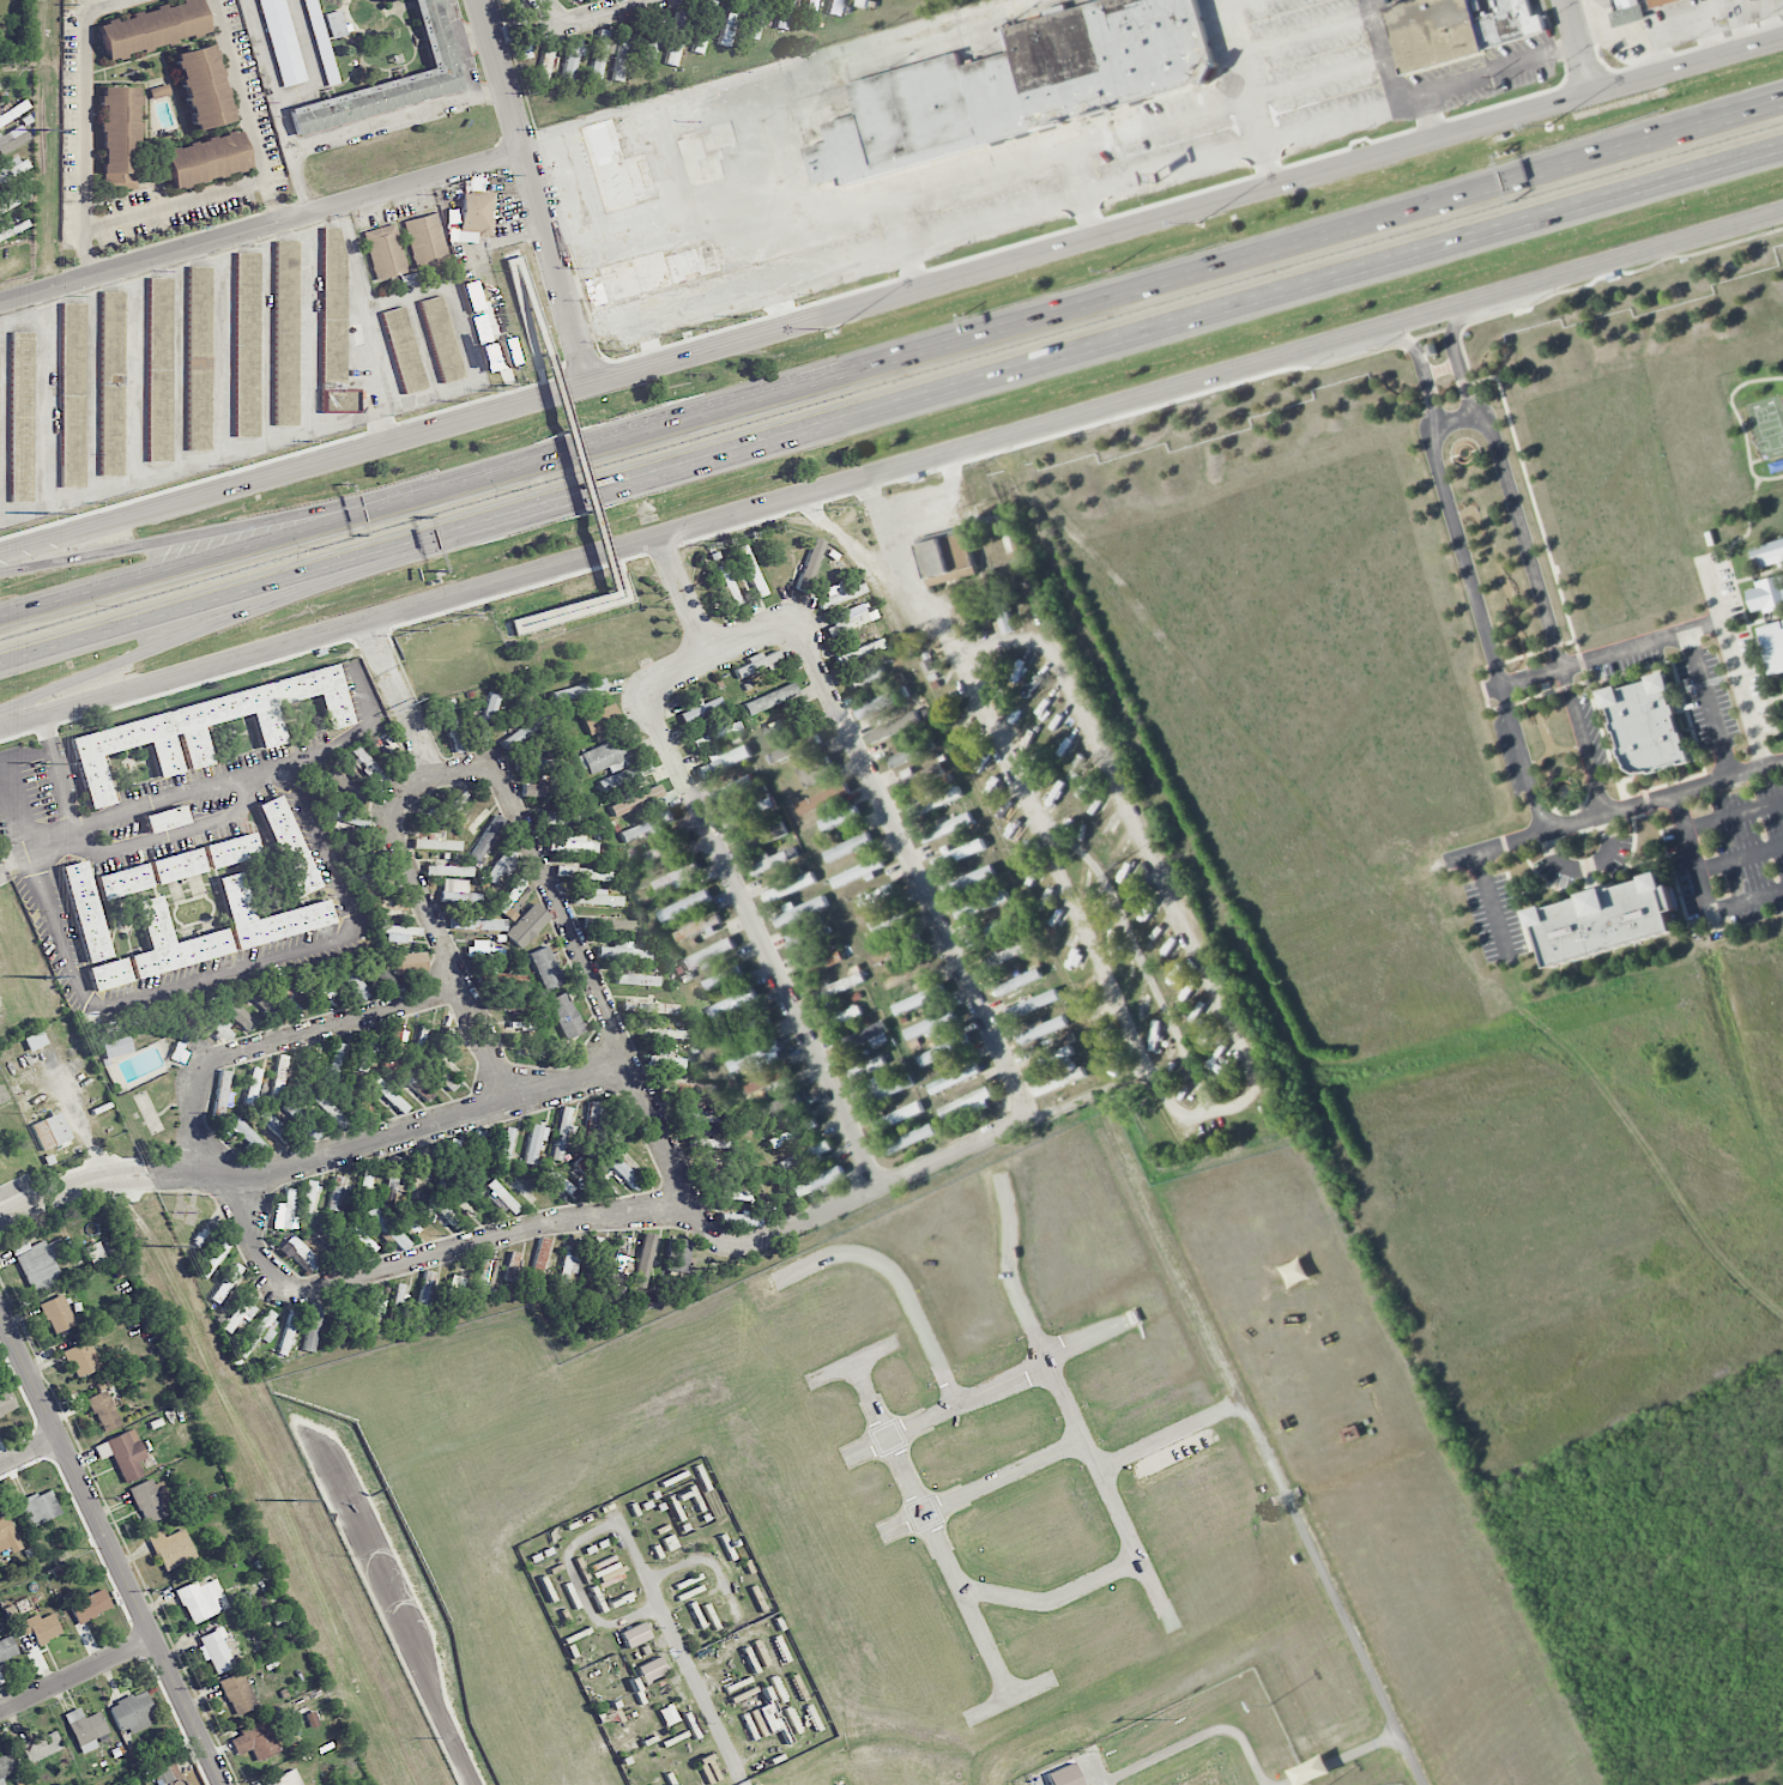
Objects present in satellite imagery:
building: (575, 0)
road: (1222, 2)
building: (1658, 2)
building: (834, 7)
building: (810, 11)
building: (782, 13)
building: (1627, 16)
road: (592, 17)
road: (449, 18)
building: (754, 18)
building: (730, 22)
building: (334, 23)
building: (152, 28)
building: (1456, 29)
road: (1298, 34)
building: (689, 40)
building: (282, 42)
building: (320, 42)
road: (1580, 46)
road: (459, 50)
building: (600, 54)
building: (622, 54)
building: (548, 56)
building: (572, 58)
road: (1240, 66)
road: (503, 74)
road: (270, 75)
building: (388, 81)
road: (1312, 83)
building: (1023, 85)
building: (200, 86)
road: (767, 92)
road: (243, 99)
road: (85, 111)
road: (1430, 115)
road: (1699, 117)
power tower: (50, 128)
road: (369, 128)
building: (120, 137)
building: (12, 140)
road: (1775, 147)
road: (1244, 149)
road: (1775, 149)
building: (203, 158)
road: (1267, 164)
building: (13, 168)
road: (1001, 169)
road: (669, 171)
road: (1076, 171)
building: (12, 196)
road: (176, 204)
road: (276, 211)
road: (1089, 214)
building: (476, 216)
road: (897, 220)
road: (262, 225)
building: (427, 241)
road: (265, 242)
road: (1063, 244)
building: (385, 250)
road: (599, 256)
road: (89, 265)
road: (912, 265)
road: (558, 266)
road: (780, 276)
road: (1165, 278)
road: (519, 280)
building: (472, 296)
road: (780, 301)
building: (334, 325)
road: (309, 329)
building: (286, 333)
road: (1142, 333)
road: (648, 335)
building: (441, 339)
road: (267, 341)
building: (247, 345)
building: (403, 350)
road: (224, 353)
building: (199, 357)
road: (181, 365)
building: (159, 368)
road: (138, 379)
building: (113, 385)
road: (92, 391)
building: (72, 394)
road: (47, 404)
building: (22, 415)
road: (2, 417)
road: (1455, 418)
road: (383, 424)
road: (191, 464)
road: (890, 465)
road: (587, 468)
road: (171, 502)
power tower: (48, 513)
road: (274, 518)
road: (274, 538)
road: (1525, 546)
building: (1767, 552)
building: (947, 558)
road: (899, 559)
road: (1463, 561)
building: (810, 564)
building: (751, 570)
building: (729, 583)
road: (258, 586)
road: (685, 593)
building: (840, 594)
building: (1766, 594)
road: (256, 607)
building: (1002, 613)
road: (551, 621)
building: (846, 624)
building: (1773, 646)
road: (721, 651)
building: (859, 652)
road: (1610, 654)
building: (757, 662)
road: (1733, 662)
building: (866, 677)
building: (993, 679)
building: (579, 690)
road: (398, 695)
road: (365, 696)
building: (881, 702)
road: (1709, 704)
building: (700, 708)
building: (600, 718)
building: (1645, 725)
building: (457, 726)
building: (195, 730)
building: (524, 730)
building: (715, 734)
building: (877, 736)
road: (330, 745)
building: (797, 746)
building: (604, 757)
building: (723, 761)
power tower: (48, 762)
building: (536, 764)
building: (369, 766)
road: (58, 767)
building: (816, 770)
road: (265, 774)
building: (624, 774)
road: (504, 777)
building: (923, 781)
road: (10, 783)
building: (346, 785)
building: (732, 788)
building: (549, 789)
building: (821, 798)
building: (635, 800)
road: (159, 801)
building: (935, 801)
building: (748, 812)
road: (1614, 812)
road: (1734, 816)
building: (556, 817)
building: (349, 818)
building: (838, 818)
building: (164, 819)
building: (646, 827)
building: (947, 828)
road: (173, 836)
building: (486, 837)
building: (760, 837)
building: (436, 843)
building: (288, 845)
building: (573, 845)
building: (847, 847)
building: (362, 848)
building: (665, 848)
building: (231, 851)
road: (43, 852)
building: (957, 854)
road: (1740, 858)
building: (772, 860)
building: (177, 865)
building: (501, 865)
building: (448, 870)
building: (580, 872)
building: (856, 873)
road: (918, 875)
building: (676, 878)
building: (123, 881)
building: (968, 881)
building: (515, 888)
building: (788, 888)
road: (1703, 889)
building: (458, 891)
building: (597, 898)
building: (386, 903)
building: (980, 904)
building: (684, 906)
building: (882, 907)
road: (1492, 907)
building: (85, 910)
building: (800, 912)
building: (268, 915)
building: (1604, 920)
building: (478, 924)
building: (611, 924)
building: (696, 927)
building: (991, 931)
building: (397, 932)
building: (804, 936)
building: (173, 940)
road: (762, 943)
building: (483, 949)
building: (623, 951)
building: (889, 951)
building: (707, 954)
building: (1003, 956)
road: (1138, 956)
building: (410, 962)
road: (237, 966)
building: (545, 968)
building: (109, 973)
building: (381, 974)
building: (905, 974)
power tower: (48, 975)
building: (503, 978)
building: (723, 978)
building: (637, 980)
building: (351, 981)
building: (1017, 981)
building: (321, 986)
building: (838, 987)
building: (289, 993)
building: (261, 999)
building: (918, 999)
building: (520, 1002)
building: (732, 1003)
building: (1032, 1004)
building: (649, 1008)
building: (272, 1011)
building: (833, 1011)
building: (237, 1012)
building: (564, 1015)
building: (842, 1017)
building: (930, 1024)
building: (216, 1025)
building: (739, 1030)
building: (1041, 1030)
building: (664, 1033)
building: (863, 1037)
road: (279, 1039)
building: (35, 1040)
building: (392, 1045)
building: (116, 1046)
building: (943, 1049)
building: (364, 1052)
building: (179, 1053)
building: (1053, 1053)
building: (757, 1058)
building: (338, 1059)
building: (664, 1059)
building: (865, 1067)
building: (1058, 1067)
building: (306, 1071)
building: (439, 1073)
building: (278, 1078)
building: (953, 1078)
building: (772, 1079)
building: (1059, 1082)
building: (415, 1083)
building: (252, 1085)
building: (687, 1088)
building: (886, 1090)
building: (220, 1093)
building: (391, 1096)
road: (1244, 1100)
building: (967, 1103)
building: (784, 1107)
building: (330, 1111)
building: (699, 1115)
building: (897, 1117)
building: (302, 1119)
building: (273, 1125)
building: (604, 1125)
building: (50, 1131)
building: (561, 1132)
building: (792, 1132)
building: (244, 1134)
road: (393, 1137)
building: (908, 1139)
building: (533, 1143)
building: (711, 1143)
building: (504, 1148)
building: (476, 1155)
building: (803, 1156)
building: (448, 1163)
building: (622, 1170)
building: (418, 1174)
building: (590, 1175)
road: (906, 1175)
building: (391, 1180)
building: (557, 1180)
building: (817, 1181)
building: (363, 1186)
road: (72, 1187)
building: (337, 1192)
building: (732, 1194)
building: (502, 1197)
building: (307, 1198)
building: (286, 1208)
building: (443, 1214)
building: (741, 1220)
building: (387, 1228)
building: (594, 1248)
building: (298, 1252)
building: (93, 1253)
building: (619, 1253)
building: (677, 1254)
building: (212, 1259)
road: (419, 1259)
building: (642, 1259)
building: (539, 1260)
building: (568, 1261)
building: (38, 1263)
building: (512, 1265)
building: (484, 1275)
road: (899, 1281)
building: (225, 1283)
building: (454, 1290)
building: (425, 1291)
building: (399, 1295)
building: (342, 1306)
building: (371, 1308)
building: (240, 1311)
building: (58, 1313)
building: (290, 1321)
building: (312, 1326)
building: (260, 1330)
road: (1090, 1337)
building: (81, 1359)
road: (851, 1362)
building: (6, 1402)
road: (1069, 1406)
building: (104, 1410)
road: (947, 1411)
road: (1171, 1435)
road: (31, 1453)
building: (123, 1453)
road: (983, 1486)
power tower: (296, 1499)
building: (150, 1500)
building: (40, 1507)
road: (932, 1529)
building: (7, 1535)
road: (113, 1545)
building: (171, 1548)
road: (1332, 1592)
building: (201, 1597)
road: (1053, 1598)
building: (90, 1605)
building: (282, 1618)
building: (41, 1627)
building: (634, 1634)
building: (7, 1648)
building: (216, 1650)
building: (651, 1669)
road: (78, 1675)
building: (1, 1680)
building: (237, 1693)
road: (1010, 1698)
building: (133, 1711)
building: (667, 1714)
building: (312, 1718)
building: (85, 1729)
building: (255, 1741)
building: (41, 1745)
building: (6, 1766)
building: (169, 1771)
building: (1063, 1775)
building: (285, 1779)

